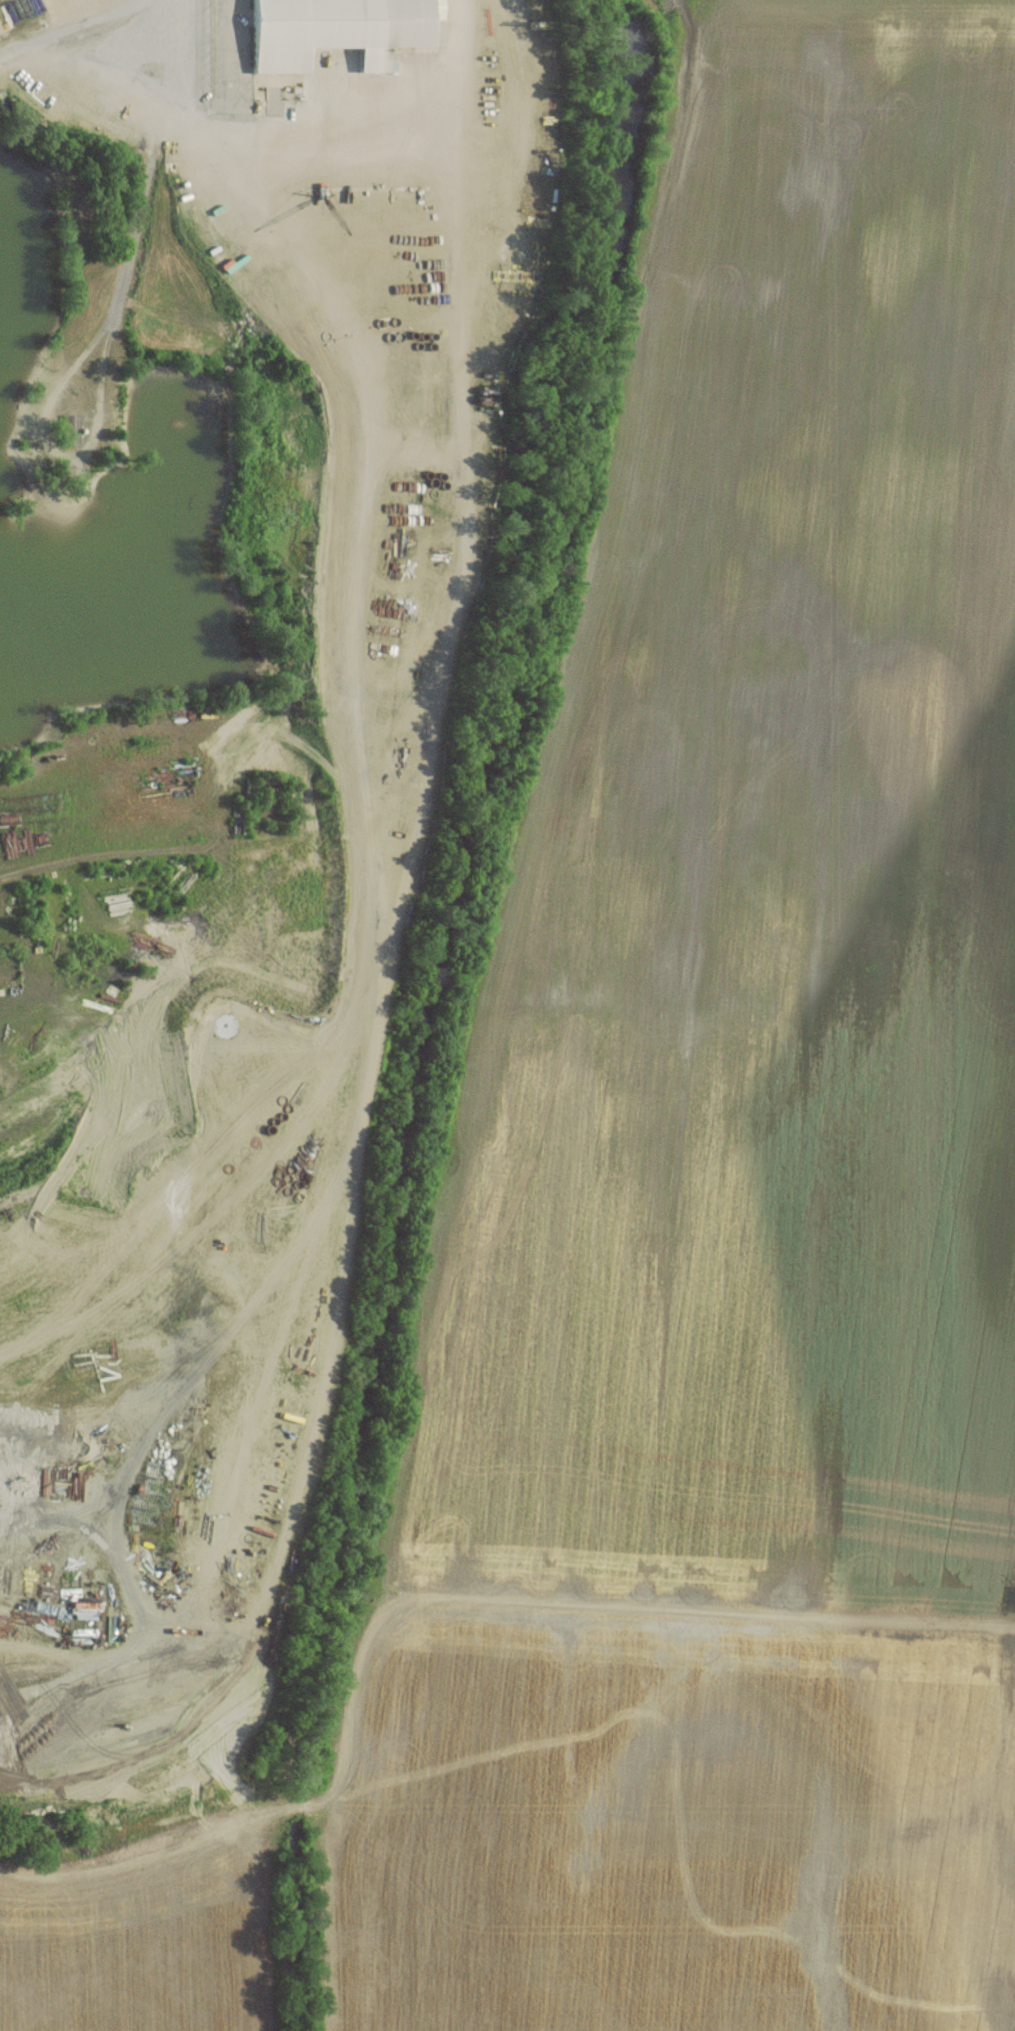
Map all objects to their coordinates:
building: (336, 30)
road: (64, 32)
road: (410, 137)
road: (103, 368)
road: (377, 486)
road: (184, 979)

